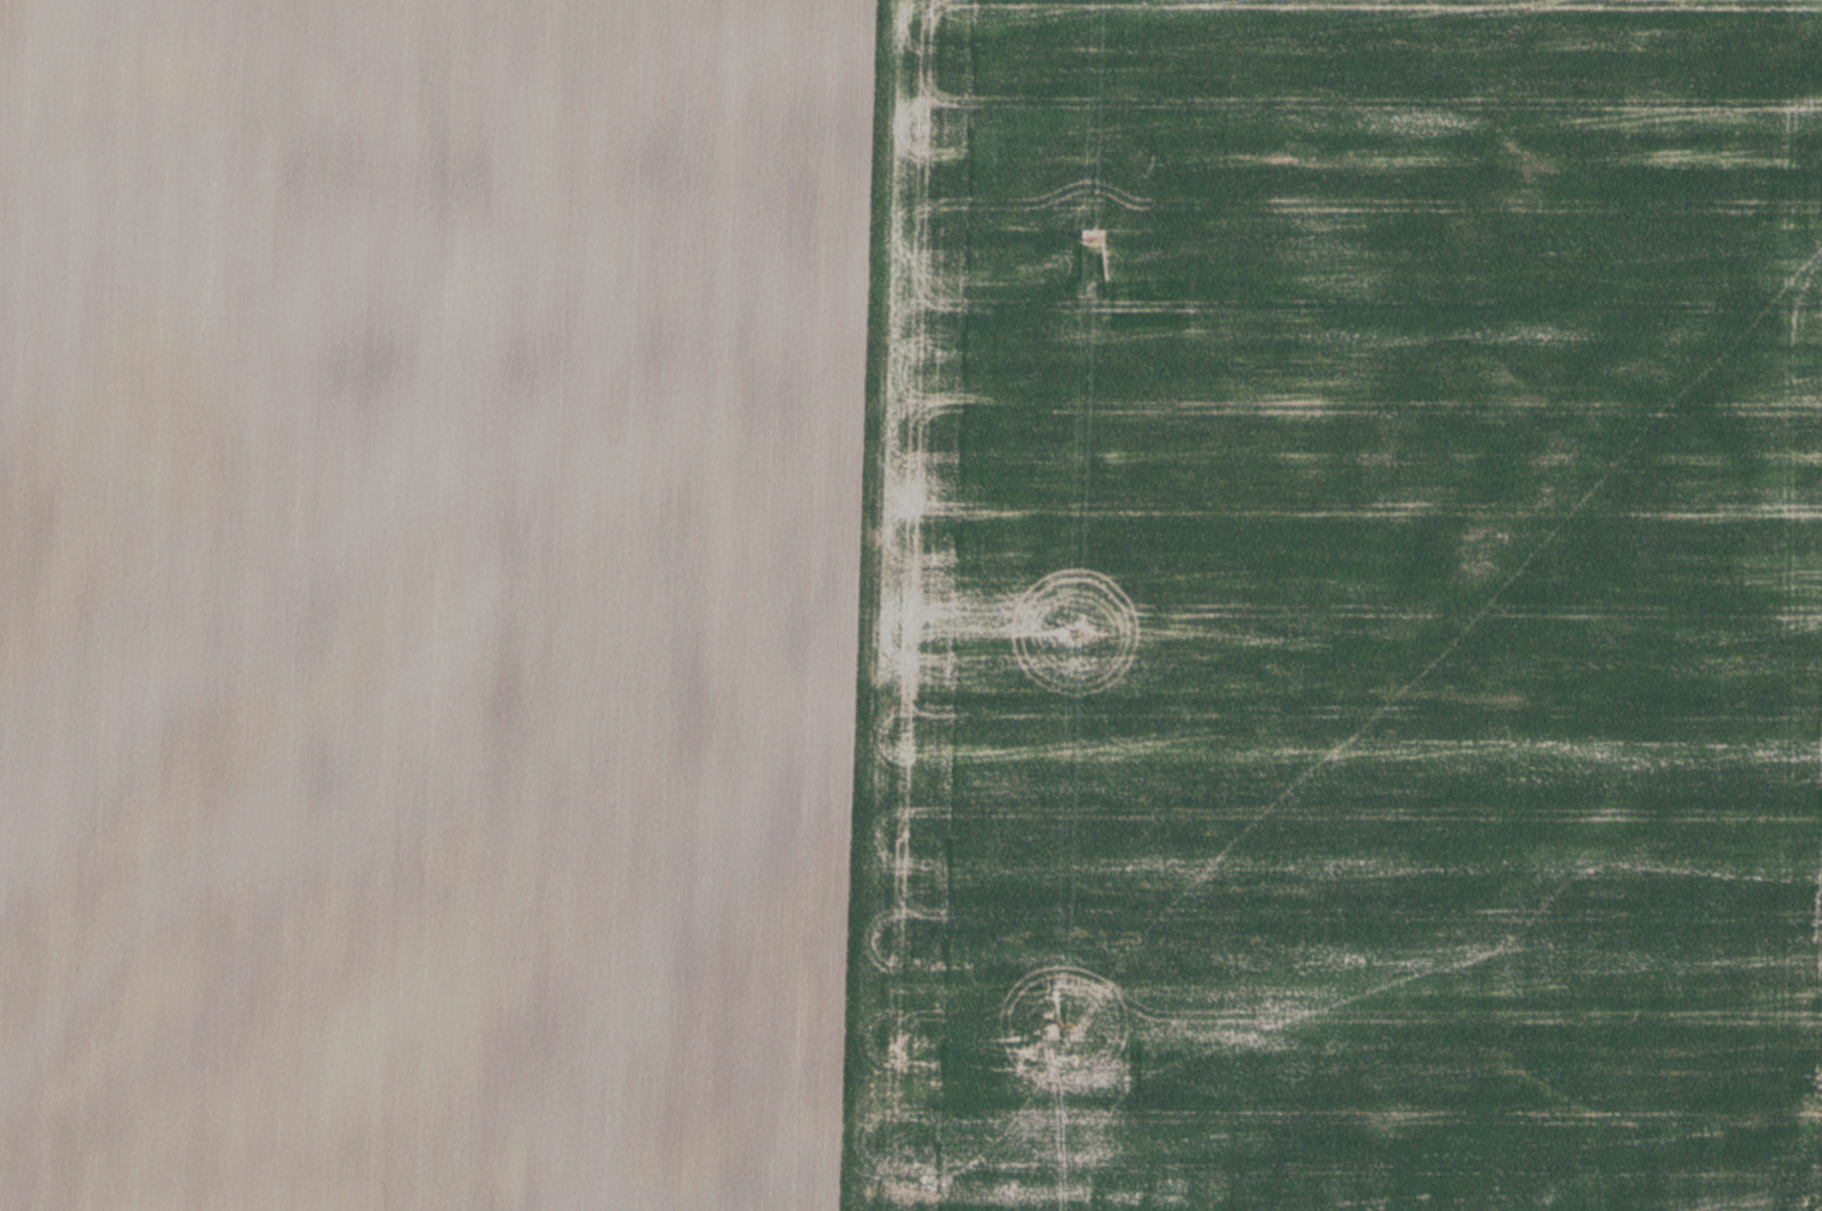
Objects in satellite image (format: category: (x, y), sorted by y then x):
power tower: (1091, 243)
power tower: (1076, 629)
power tower: (1064, 1024)

